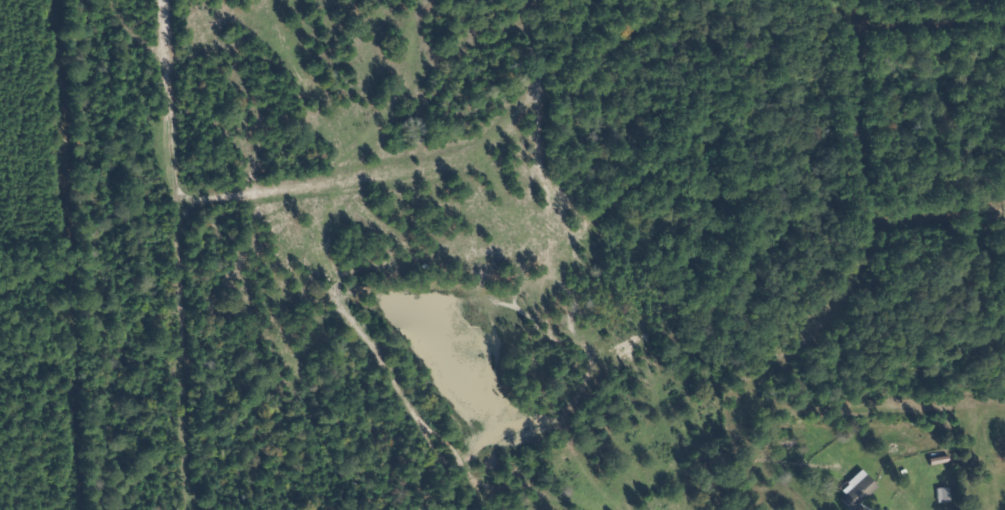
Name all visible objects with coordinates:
road: (938, 20)
road: (184, 99)
road: (417, 159)
road: (841, 307)
road: (189, 355)
road: (896, 407)
building: (857, 492)

